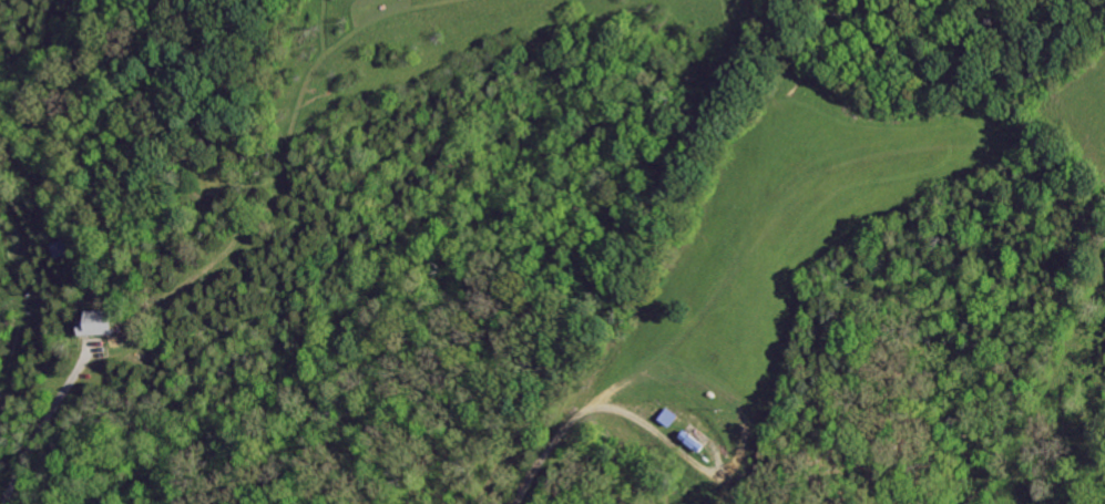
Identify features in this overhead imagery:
building: (100, 323)
building: (668, 418)
road: (576, 430)
road: (35, 432)

